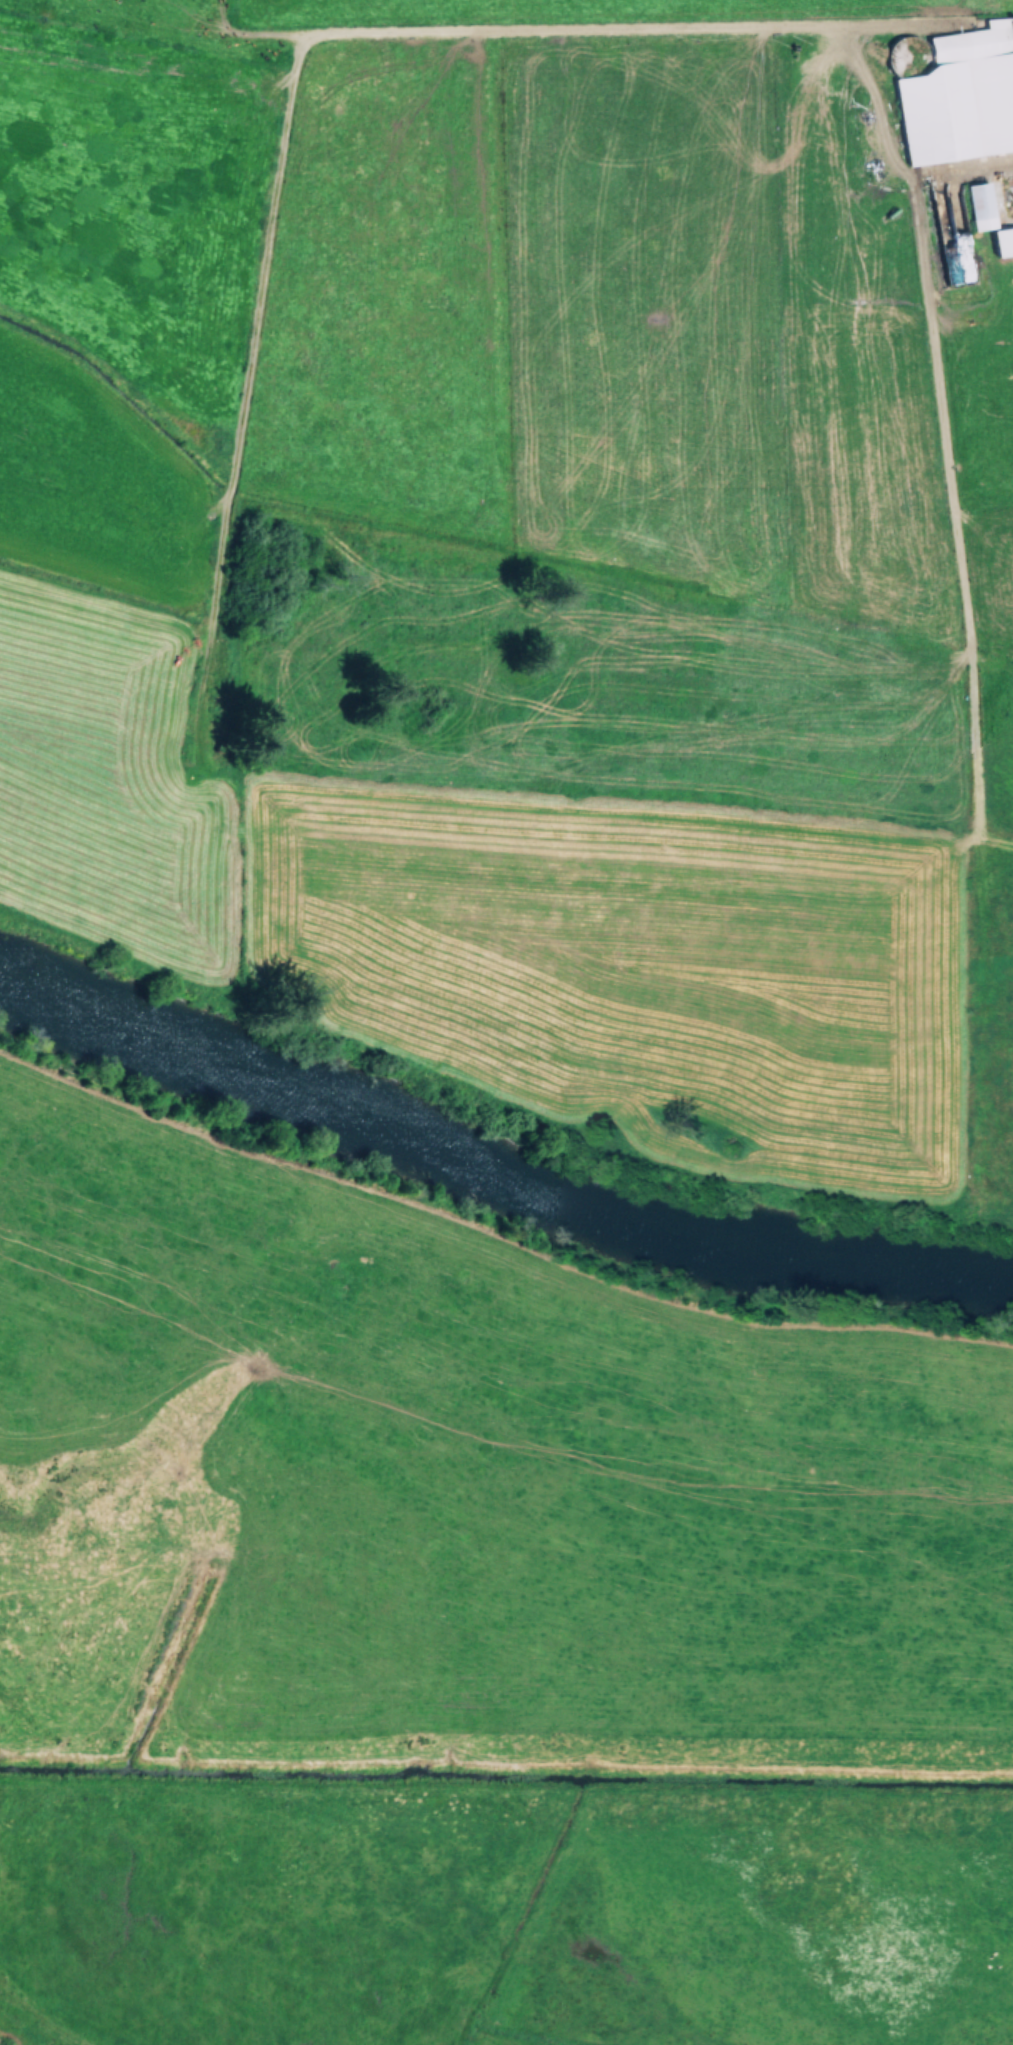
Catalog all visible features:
building: (980, 205)
building: (1003, 241)
crop: (530, 540)
river: (495, 1176)
crop: (475, 1627)

